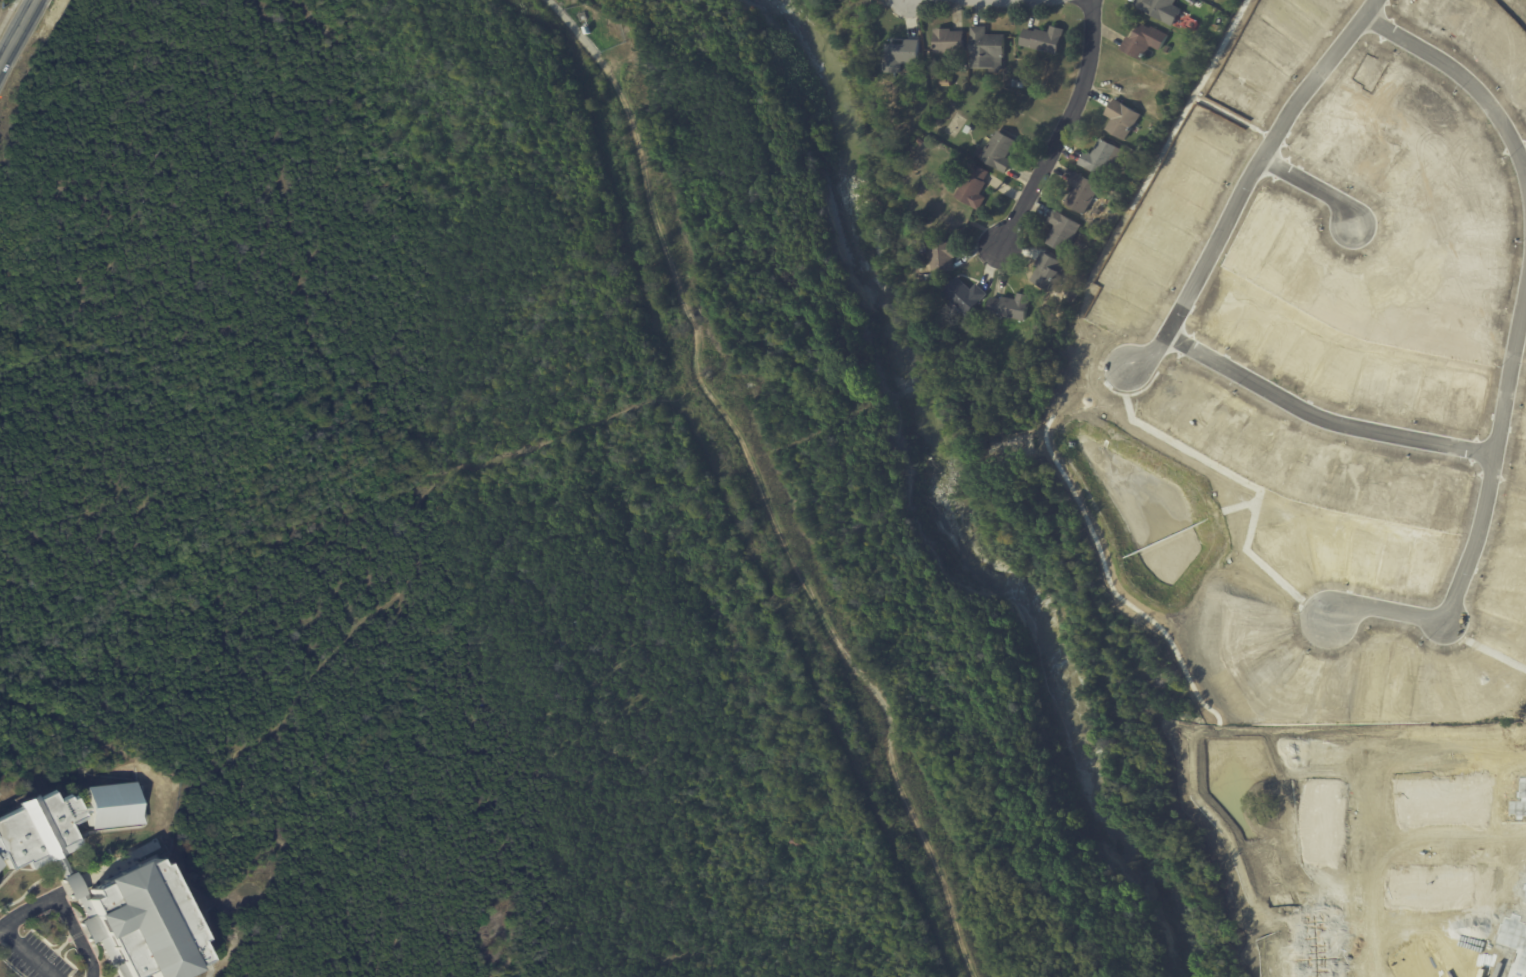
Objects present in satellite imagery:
building: (1157, 9)
building: (580, 14)
road: (571, 26)
building: (584, 27)
building: (1210, 27)
road: (17, 32)
building: (1041, 39)
building: (948, 41)
building: (1143, 41)
building: (1164, 48)
building: (984, 49)
building: (900, 56)
building: (963, 68)
building: (1013, 83)
road: (1469, 90)
road: (1223, 115)
building: (1119, 119)
building: (1146, 126)
road: (1060, 127)
building: (967, 130)
road: (1266, 138)
building: (921, 141)
building: (995, 152)
building: (1100, 159)
road: (1522, 164)
road: (1243, 182)
building: (972, 188)
road: (1310, 188)
building: (1078, 193)
building: (957, 208)
building: (1060, 231)
building: (1077, 247)
road: (306, 254)
building: (940, 257)
building: (1044, 271)
building: (962, 295)
building: (1008, 307)
road: (1179, 344)
road: (1073, 373)
building: (704, 374)
building: (744, 384)
road: (1122, 394)
road: (1315, 420)
road: (1490, 445)
road: (431, 507)
road: (732, 511)
road: (773, 522)
road: (1383, 611)
road: (1409, 756)
building: (1436, 799)
building: (1516, 800)
building: (1321, 819)
road: (270, 837)
building: (793, 842)
road: (1444, 844)
road: (1361, 868)
building: (102, 883)
building: (1523, 886)
building: (1424, 887)
building: (1478, 887)
road: (52, 899)
building: (1511, 943)
building: (1316, 945)
road: (27, 953)
parking lot: (32, 957)
building: (1411, 964)
road: (83, 966)

